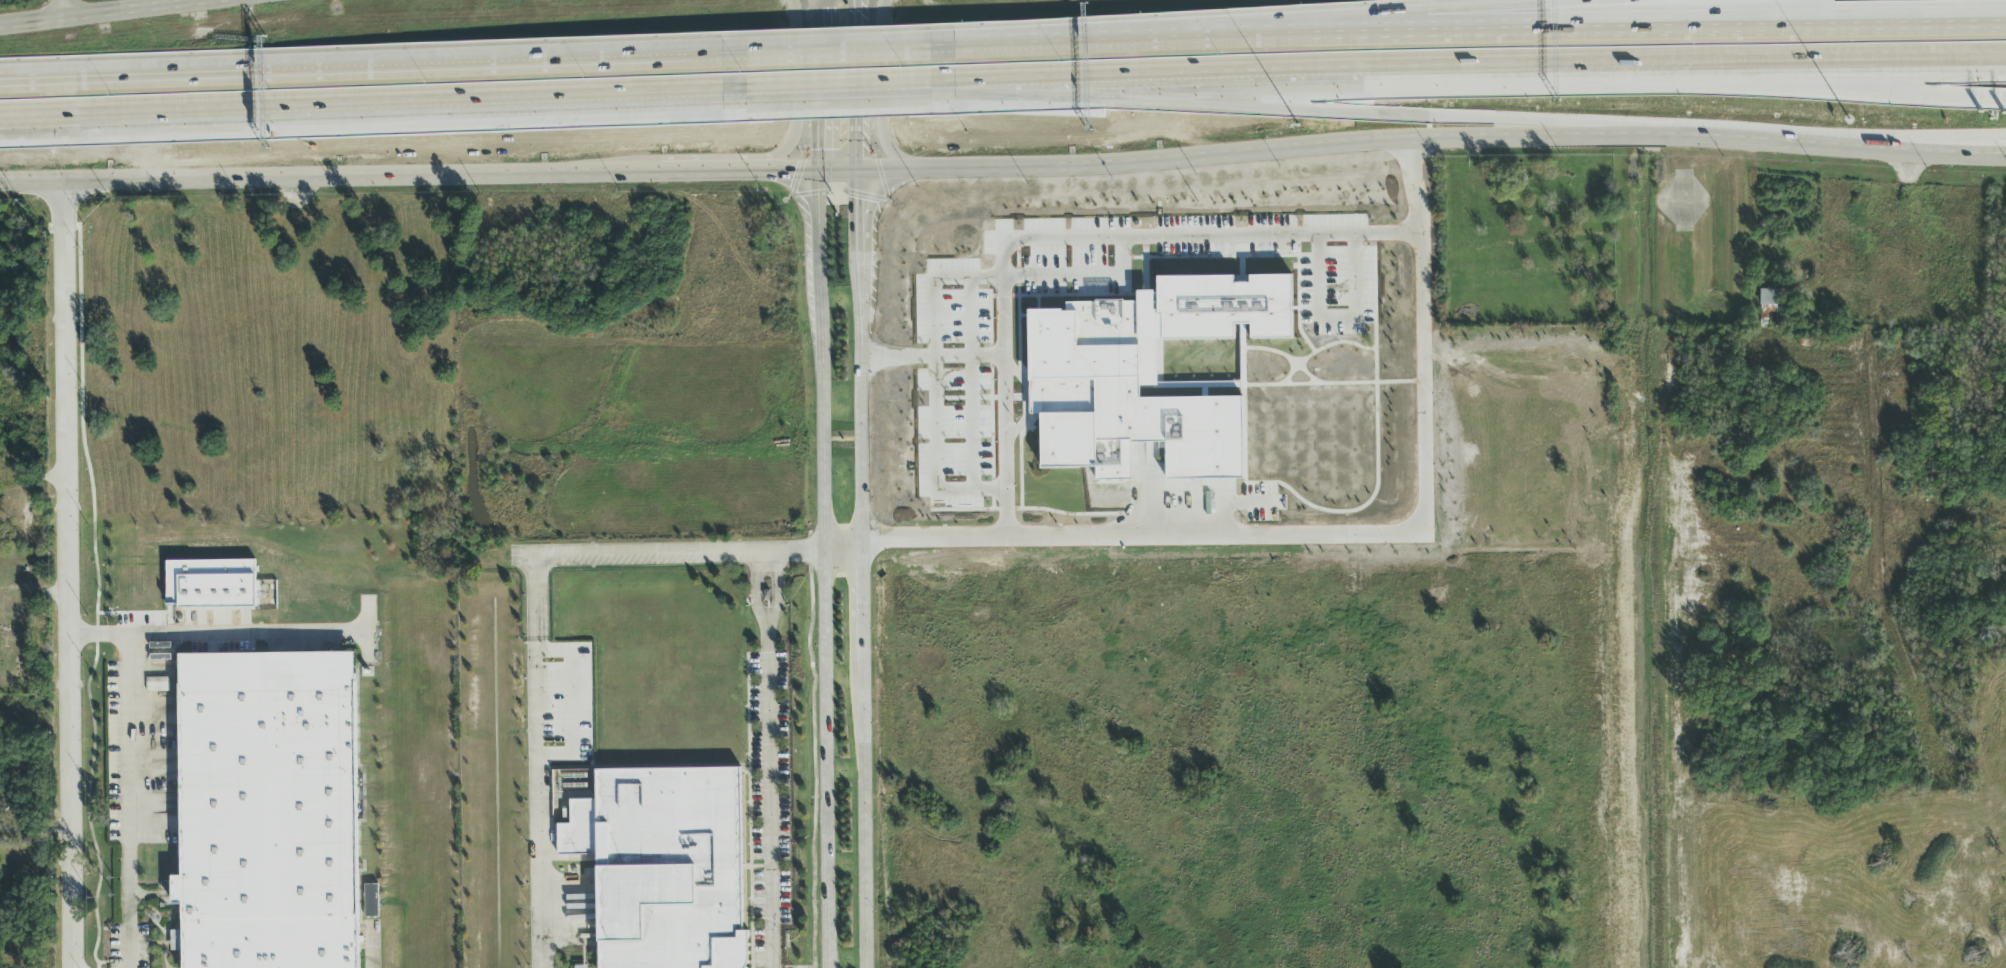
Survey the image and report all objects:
road: (62, 9)
road: (121, 12)
road: (1374, 25)
road: (1468, 38)
road: (833, 60)
road: (1476, 63)
road: (367, 78)
road: (842, 84)
road: (1565, 86)
road: (815, 87)
road: (855, 88)
road: (797, 91)
road: (880, 94)
road: (2003, 100)
road: (368, 101)
road: (1350, 110)
road: (1879, 139)
road: (1362, 147)
traffic signals: (816, 151)
road: (740, 167)
road: (692, 172)
traffic signals: (792, 174)
road: (333, 179)
road: (1753, 196)
traffic signals: (854, 201)
road: (854, 214)
road: (1071, 238)
road: (1087, 277)
building: (1772, 301)
building: (1224, 307)
road: (1342, 313)
road: (933, 358)
road: (938, 383)
road: (974, 384)
building: (1141, 432)
building: (26, 512)
road: (1337, 534)
road: (842, 553)
road: (666, 555)
road: (823, 571)
road: (67, 577)
road: (757, 590)
road: (777, 590)
road: (861, 610)
road: (368, 631)
road: (218, 634)
road: (153, 664)
building: (158, 685)
road: (153, 713)
road: (93, 745)
road: (814, 759)
road: (539, 762)
road: (154, 766)
building: (574, 780)
road: (769, 796)
road: (127, 801)
road: (155, 804)
building: (271, 811)
road: (155, 826)
building: (665, 866)
road: (371, 946)
road: (110, 963)

